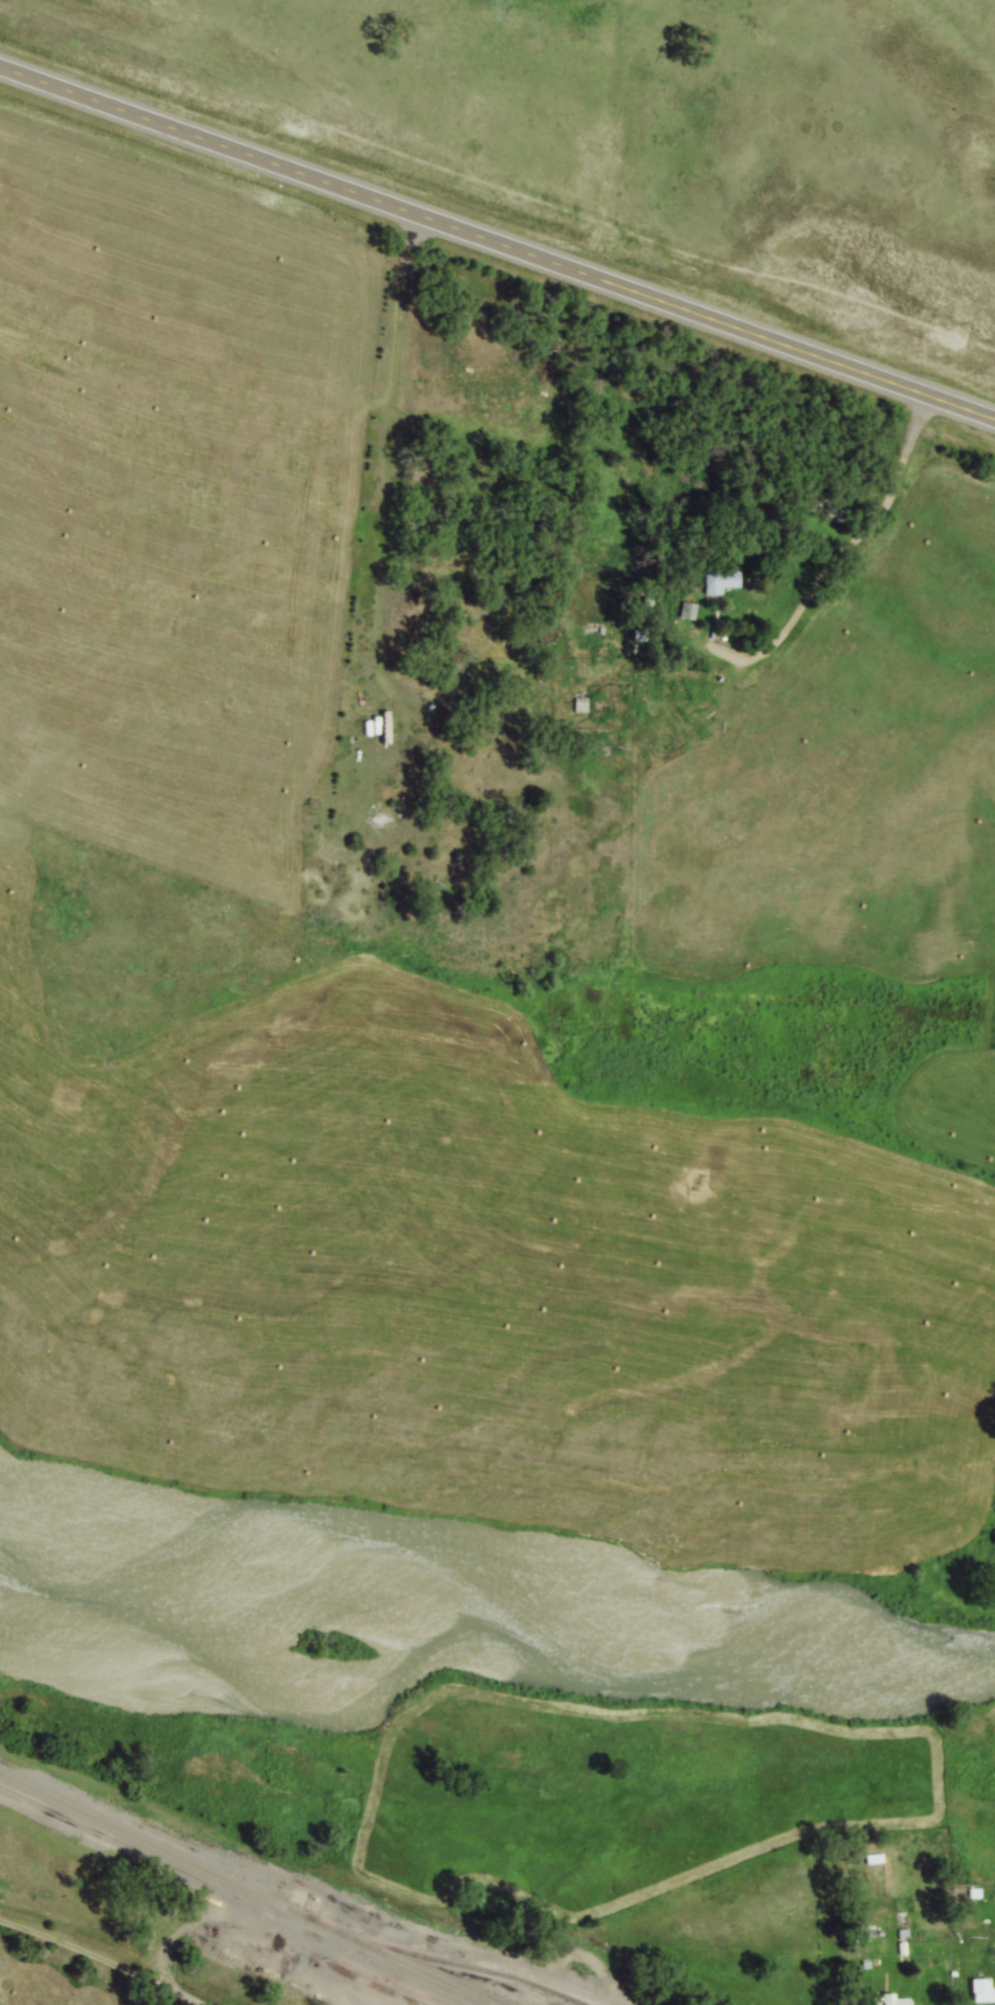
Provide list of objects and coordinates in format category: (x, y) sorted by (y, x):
road: (497, 245)
road: (820, 558)
building: (722, 582)
building: (582, 706)
river: (493, 1633)
building: (876, 1860)
railway: (242, 1891)
road: (109, 1968)
building: (985, 1997)
building: (895, 2001)

